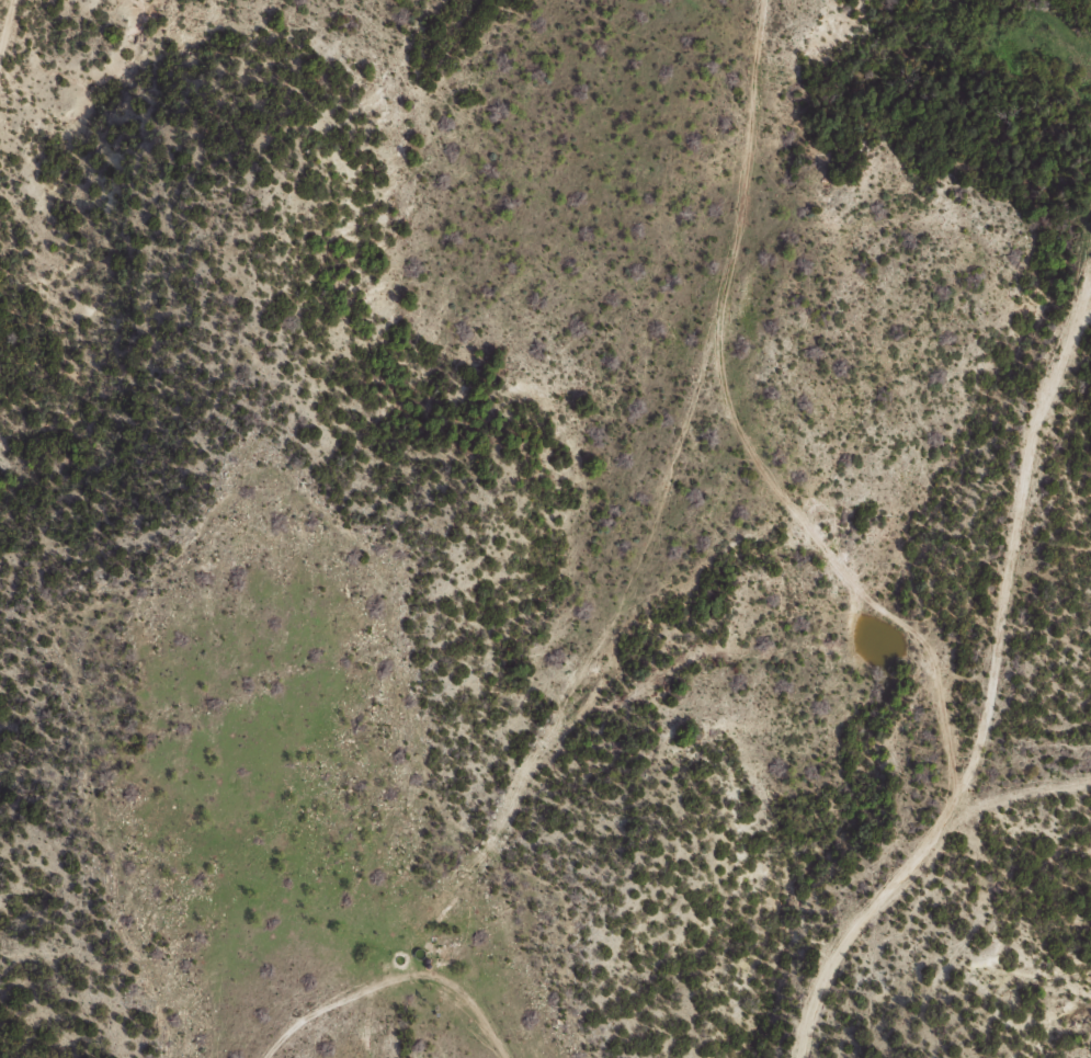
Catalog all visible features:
road: (14, 23)
road: (882, 863)
road: (400, 979)

